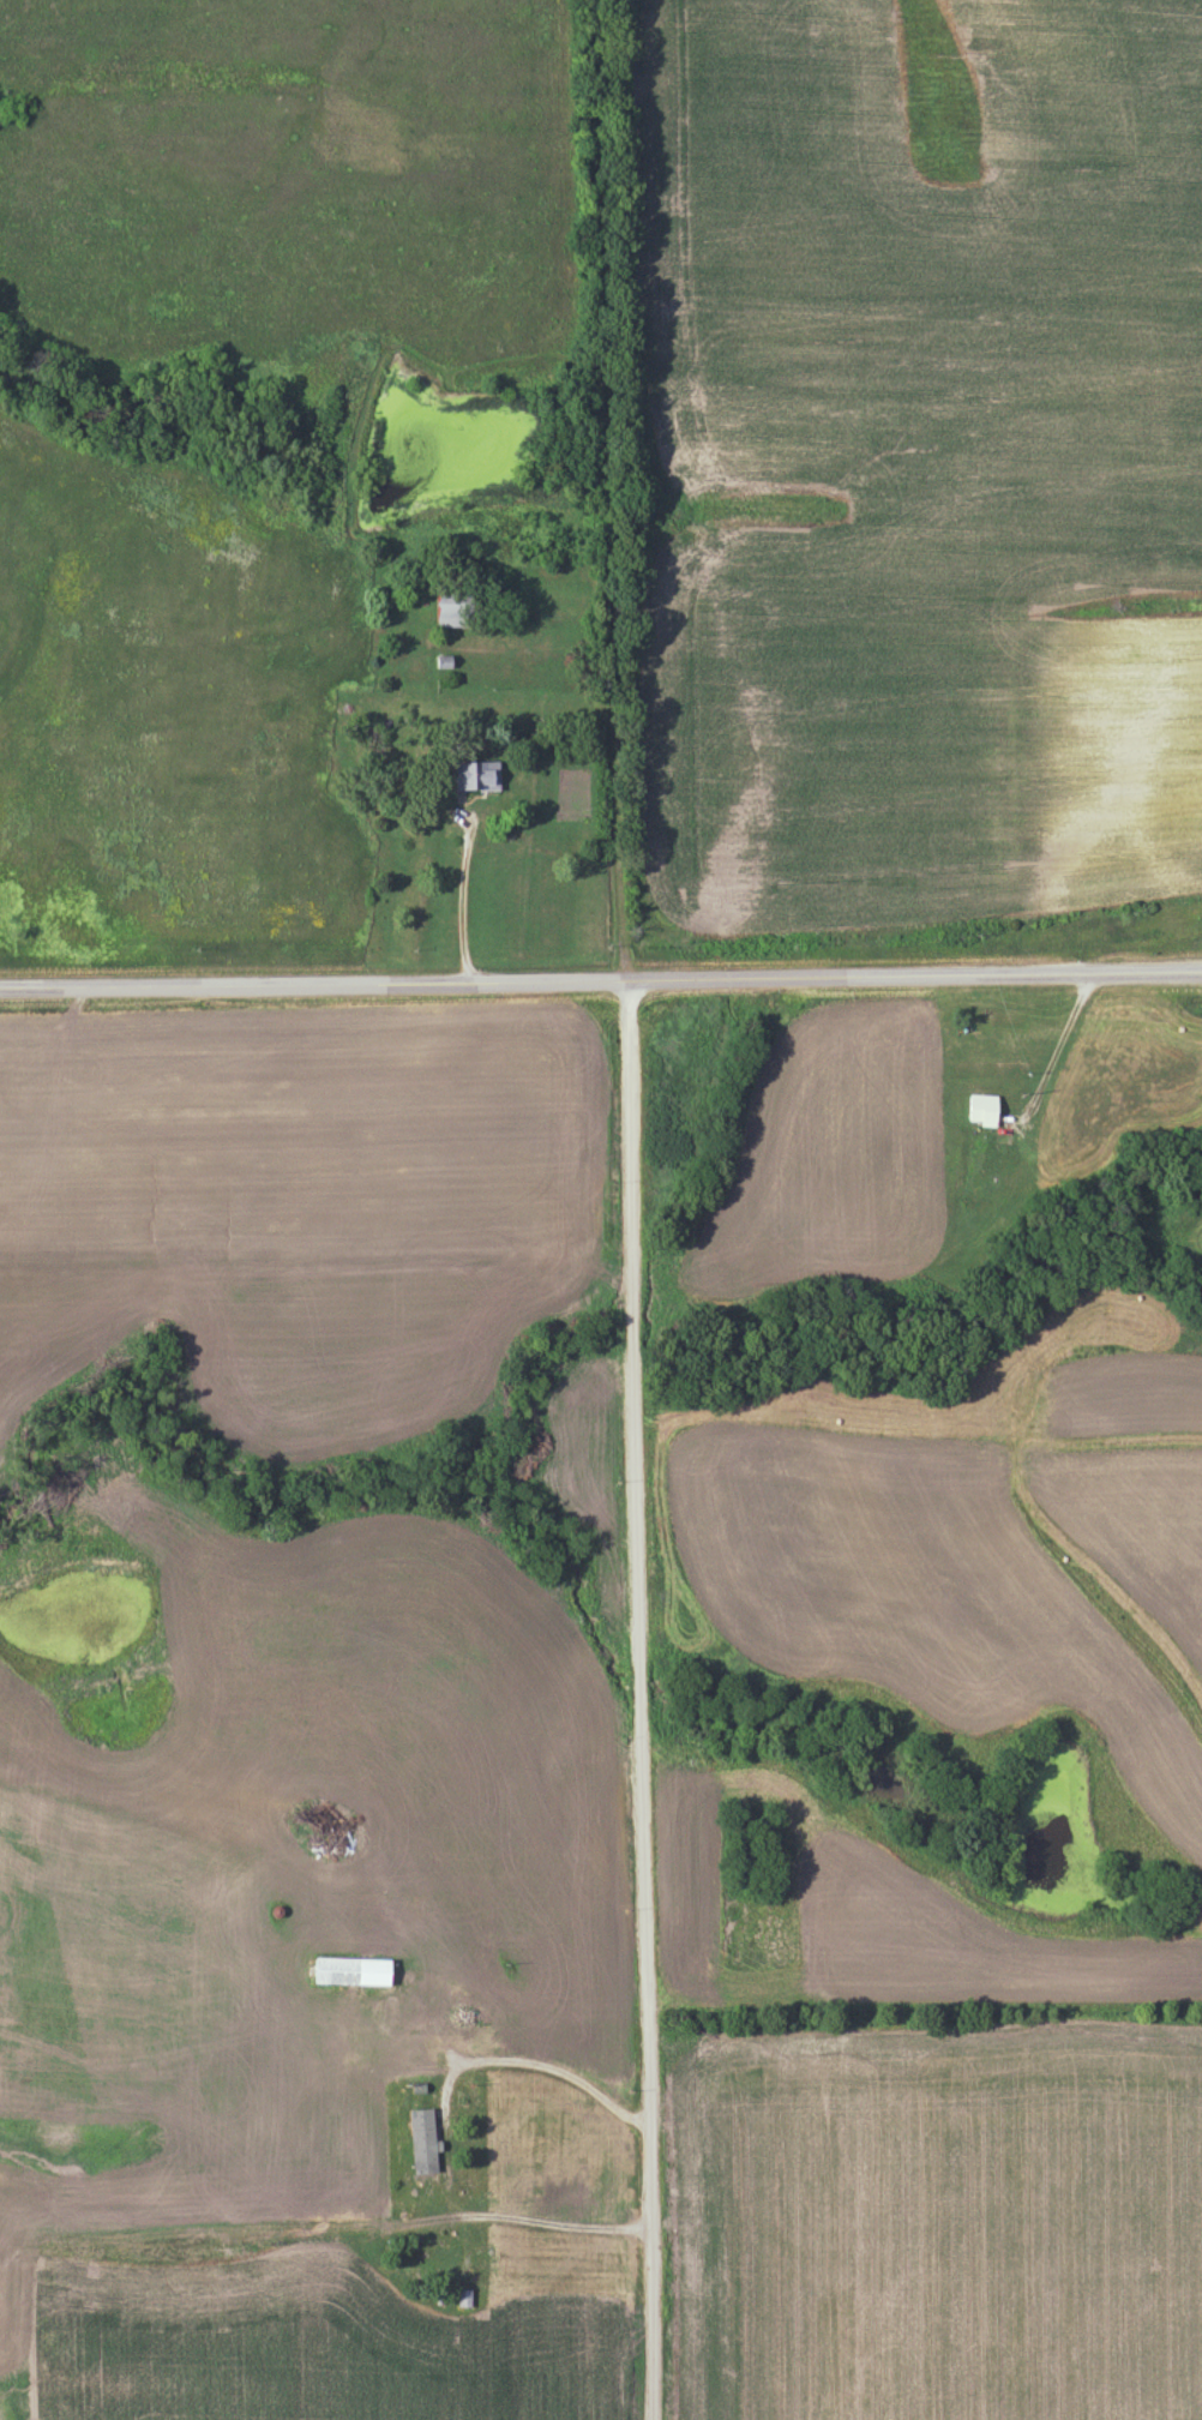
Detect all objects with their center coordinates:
building: (453, 614)
road: (608, 680)
building: (477, 776)
road: (461, 902)
road: (601, 986)
road: (641, 1703)
building: (353, 1972)
building: (469, 2017)
road: (530, 2070)
building: (423, 2142)
road: (578, 2238)
building: (432, 2274)

